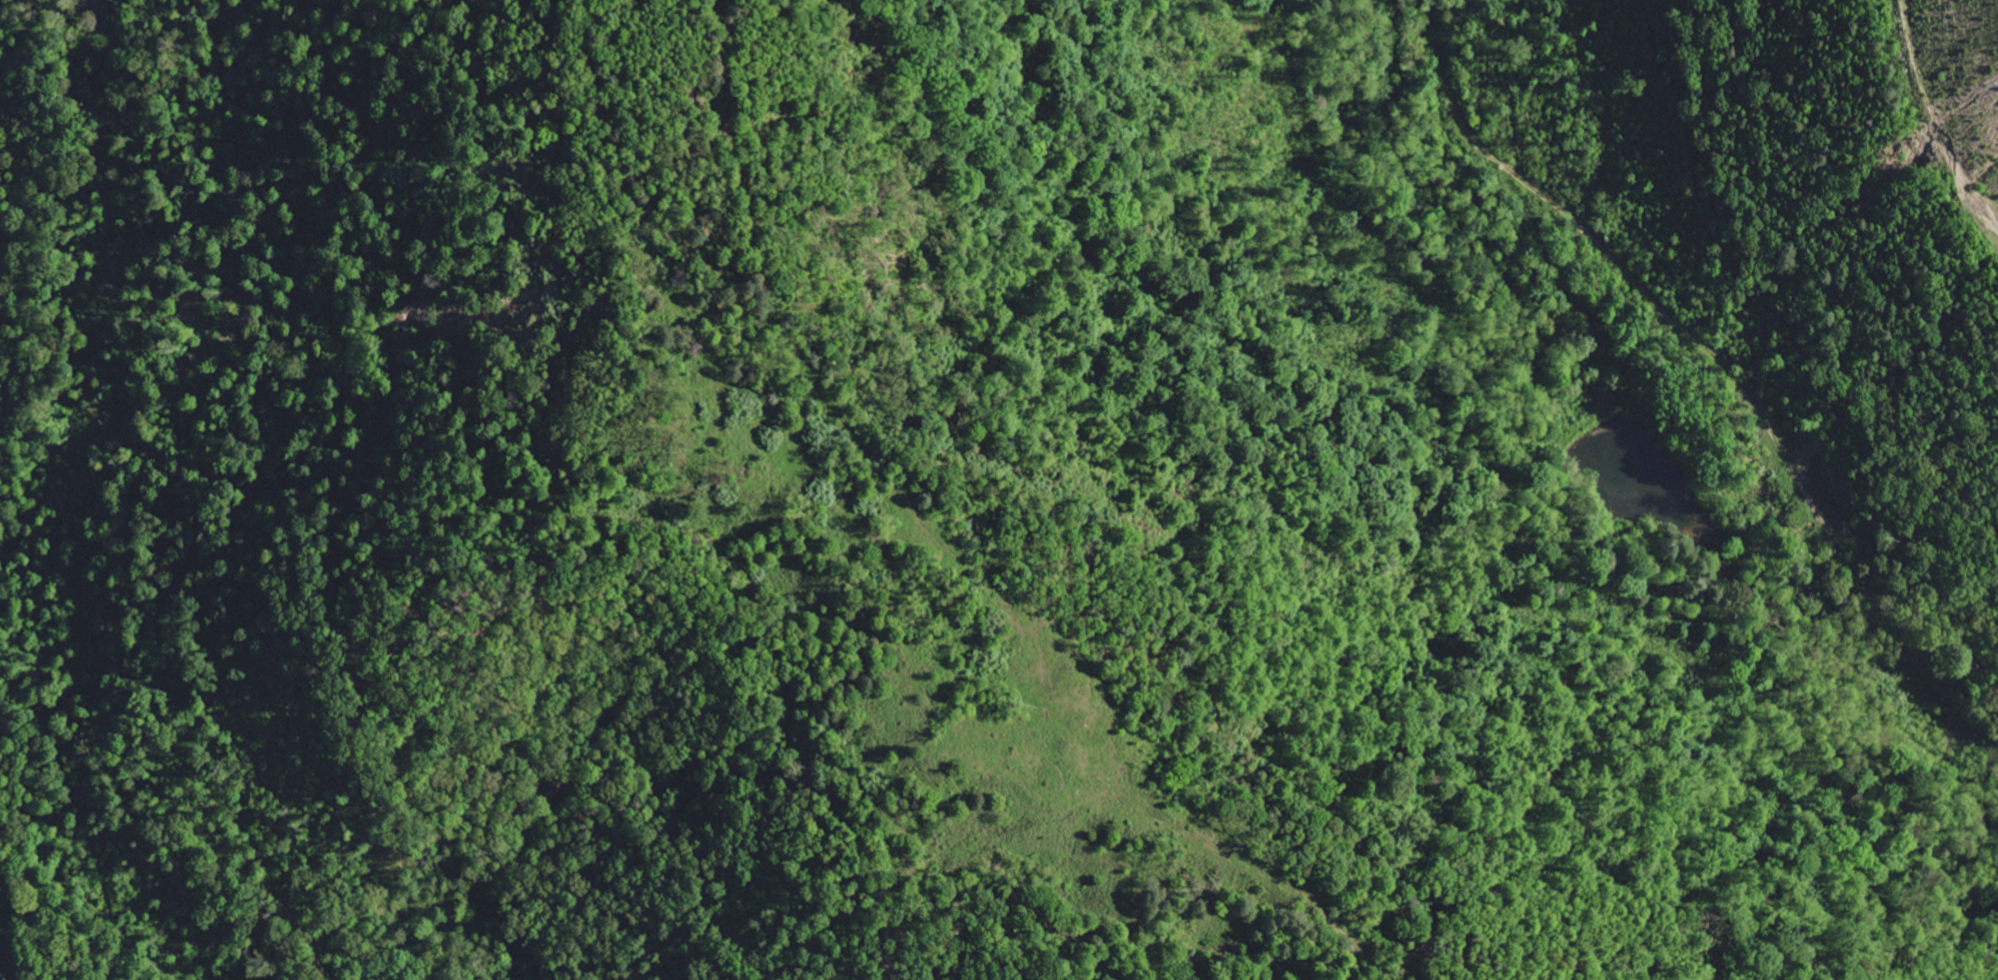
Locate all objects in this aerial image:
road: (1, 977)

